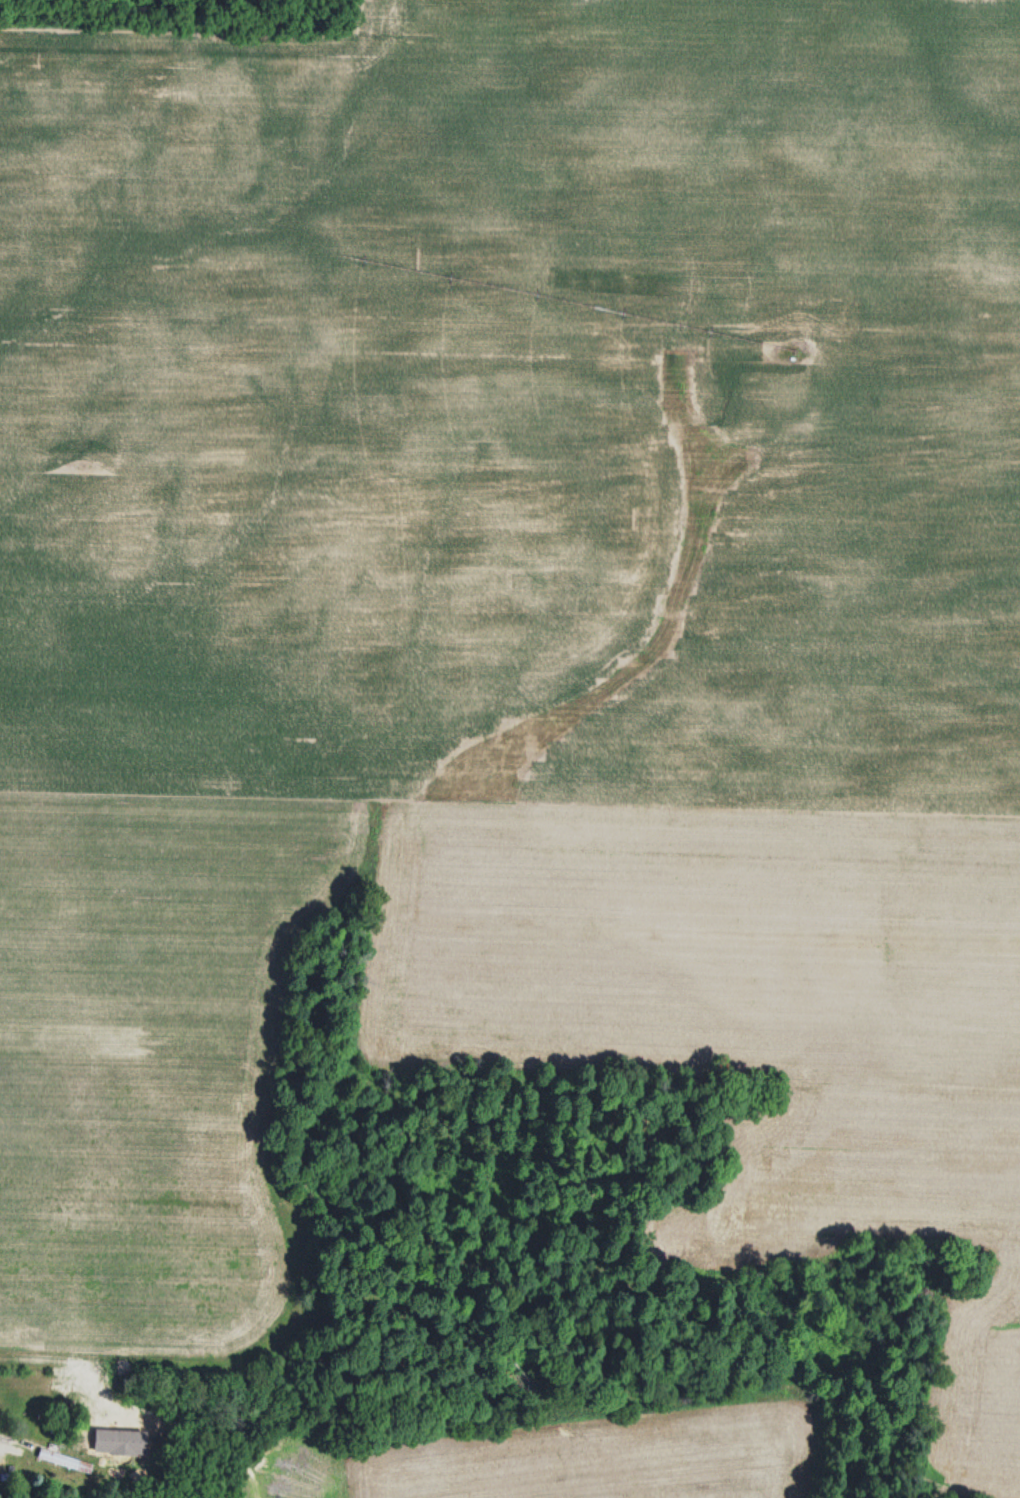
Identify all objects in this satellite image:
building: (62, 1460)

